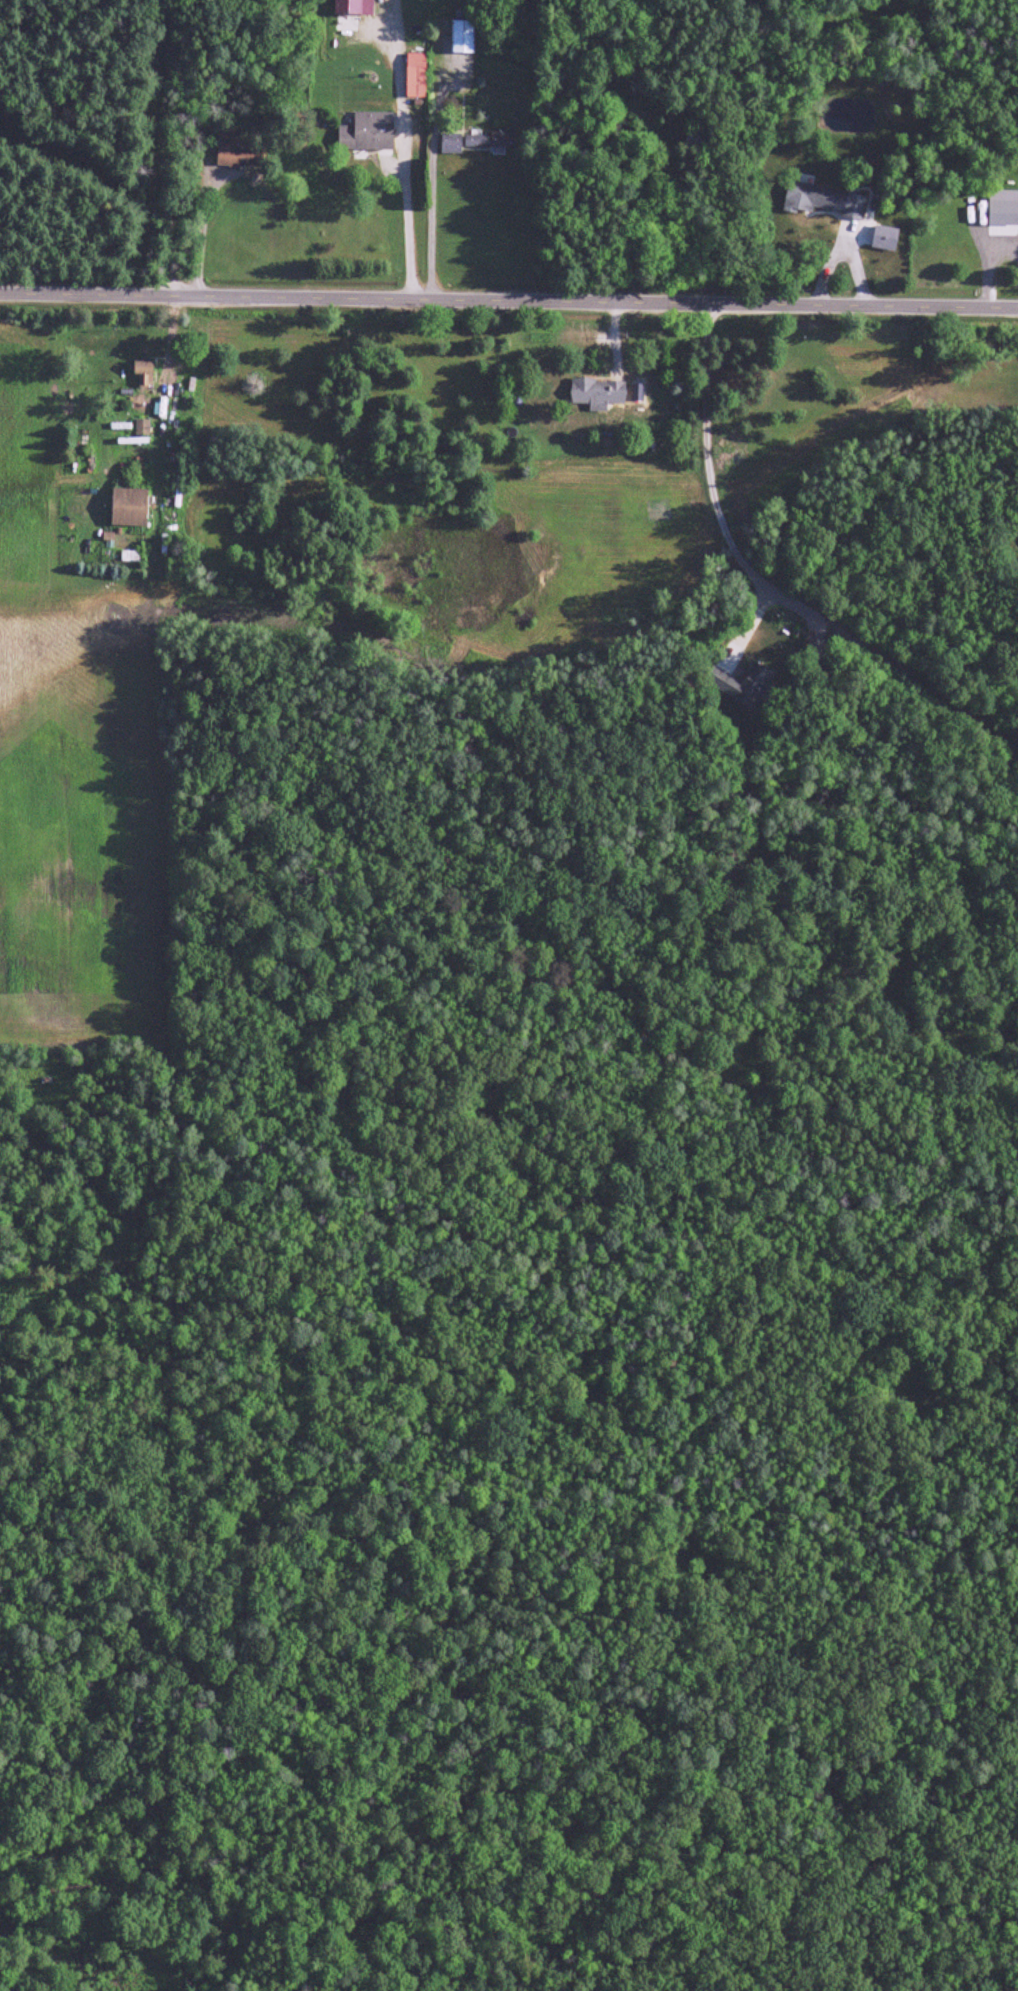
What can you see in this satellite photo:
building: (355, 7)
building: (464, 38)
building: (417, 76)
building: (642, 117)
building: (368, 133)
building: (697, 138)
building: (478, 143)
road: (400, 147)
building: (240, 149)
road: (427, 172)
building: (826, 202)
building: (1005, 208)
road: (203, 231)
road: (509, 298)
building: (144, 369)
building: (600, 395)
road: (710, 484)
building: (130, 509)
building: (742, 687)

